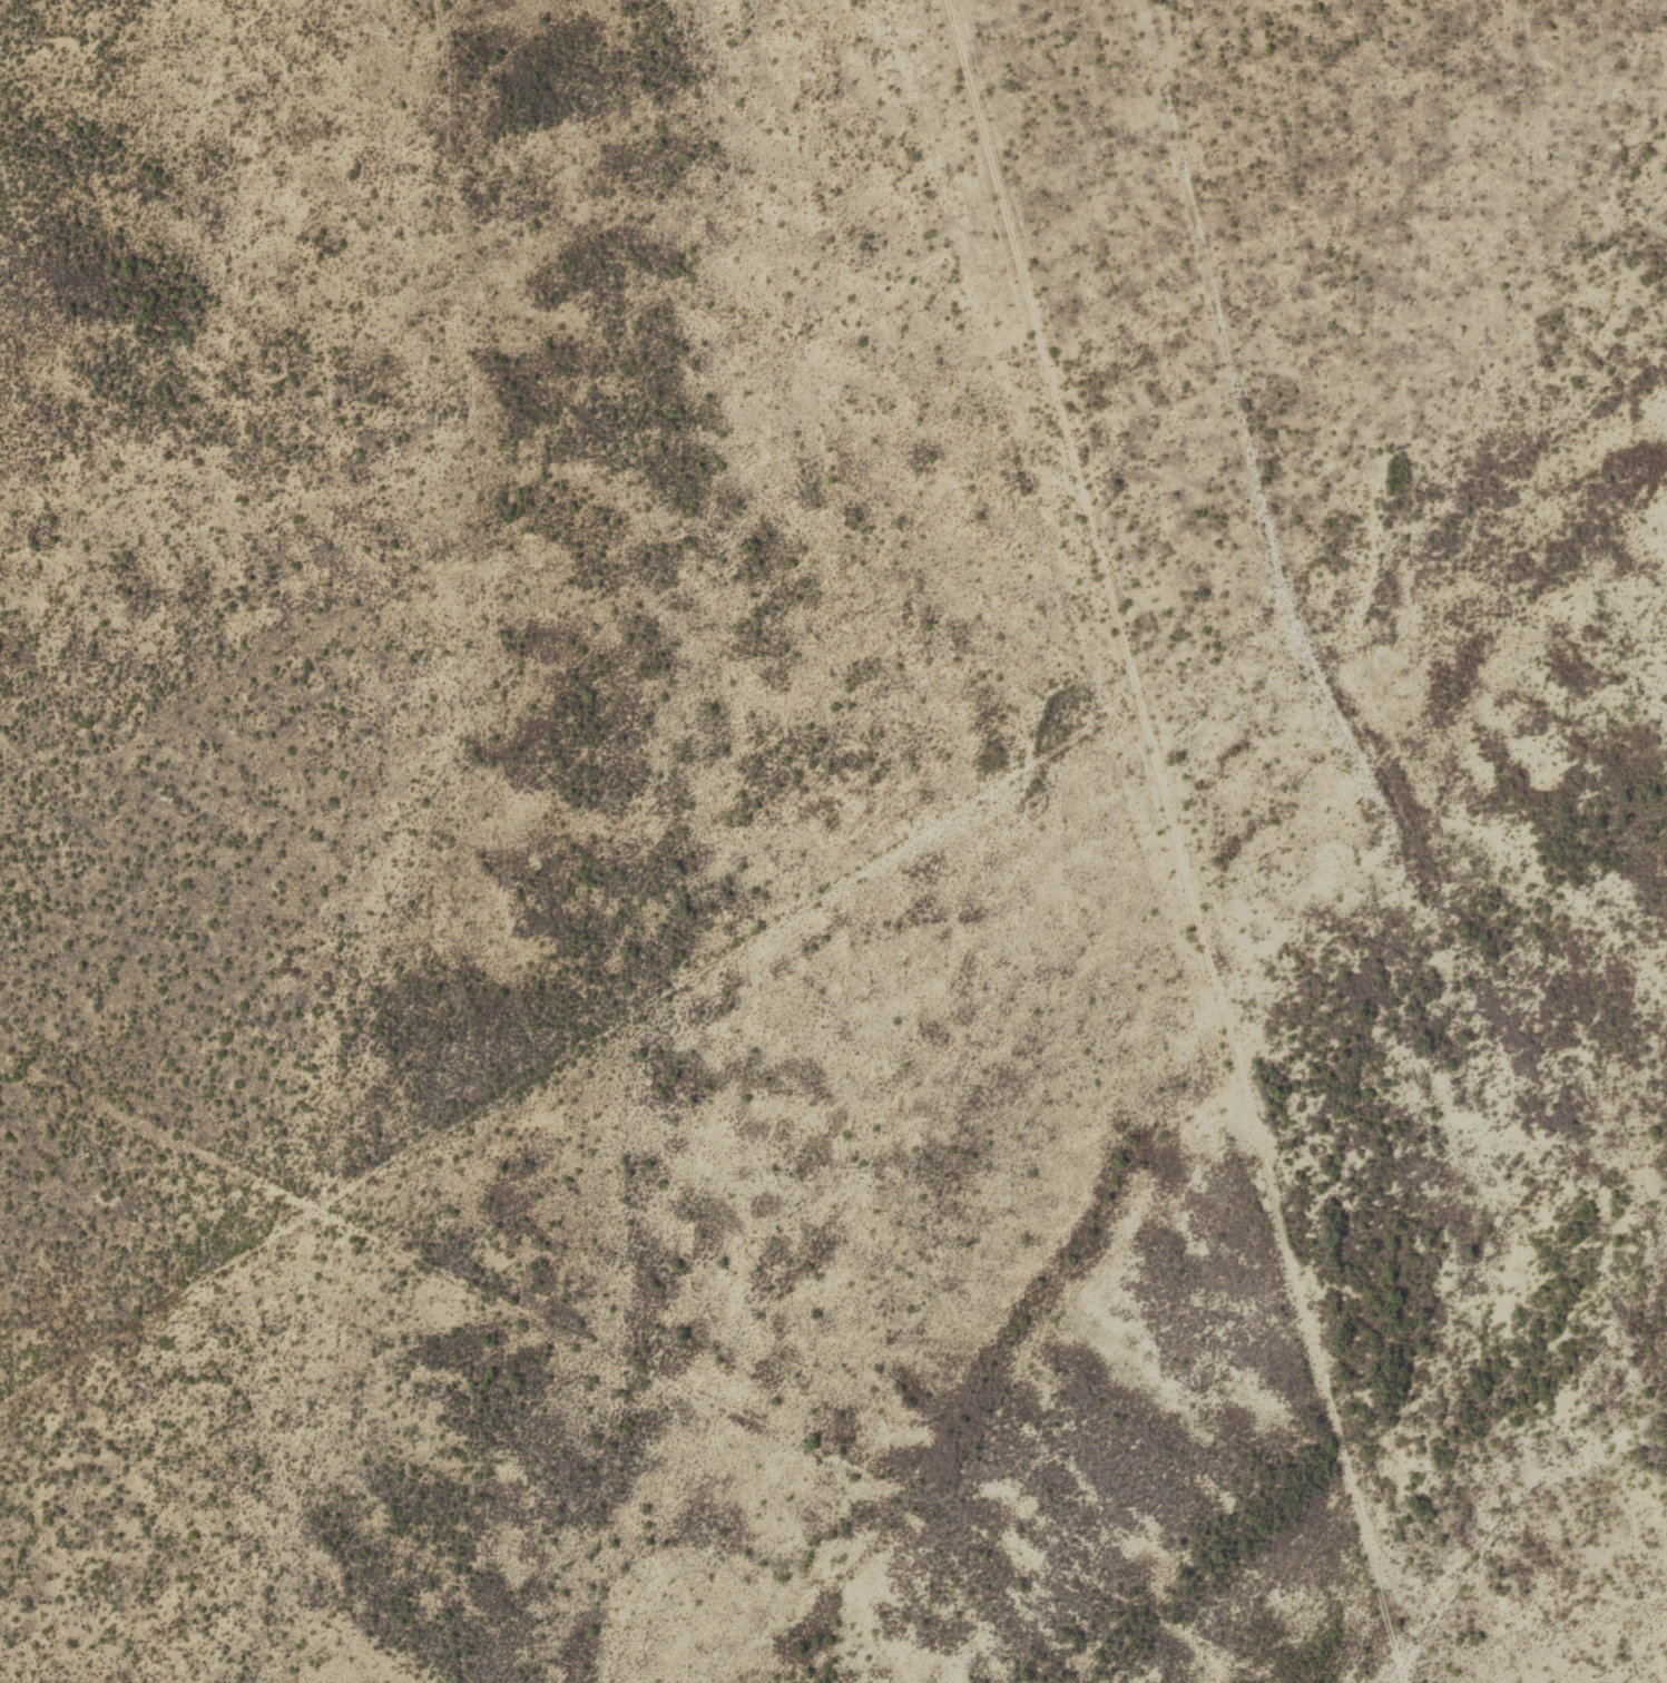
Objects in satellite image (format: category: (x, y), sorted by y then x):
road: (1316, 642)

